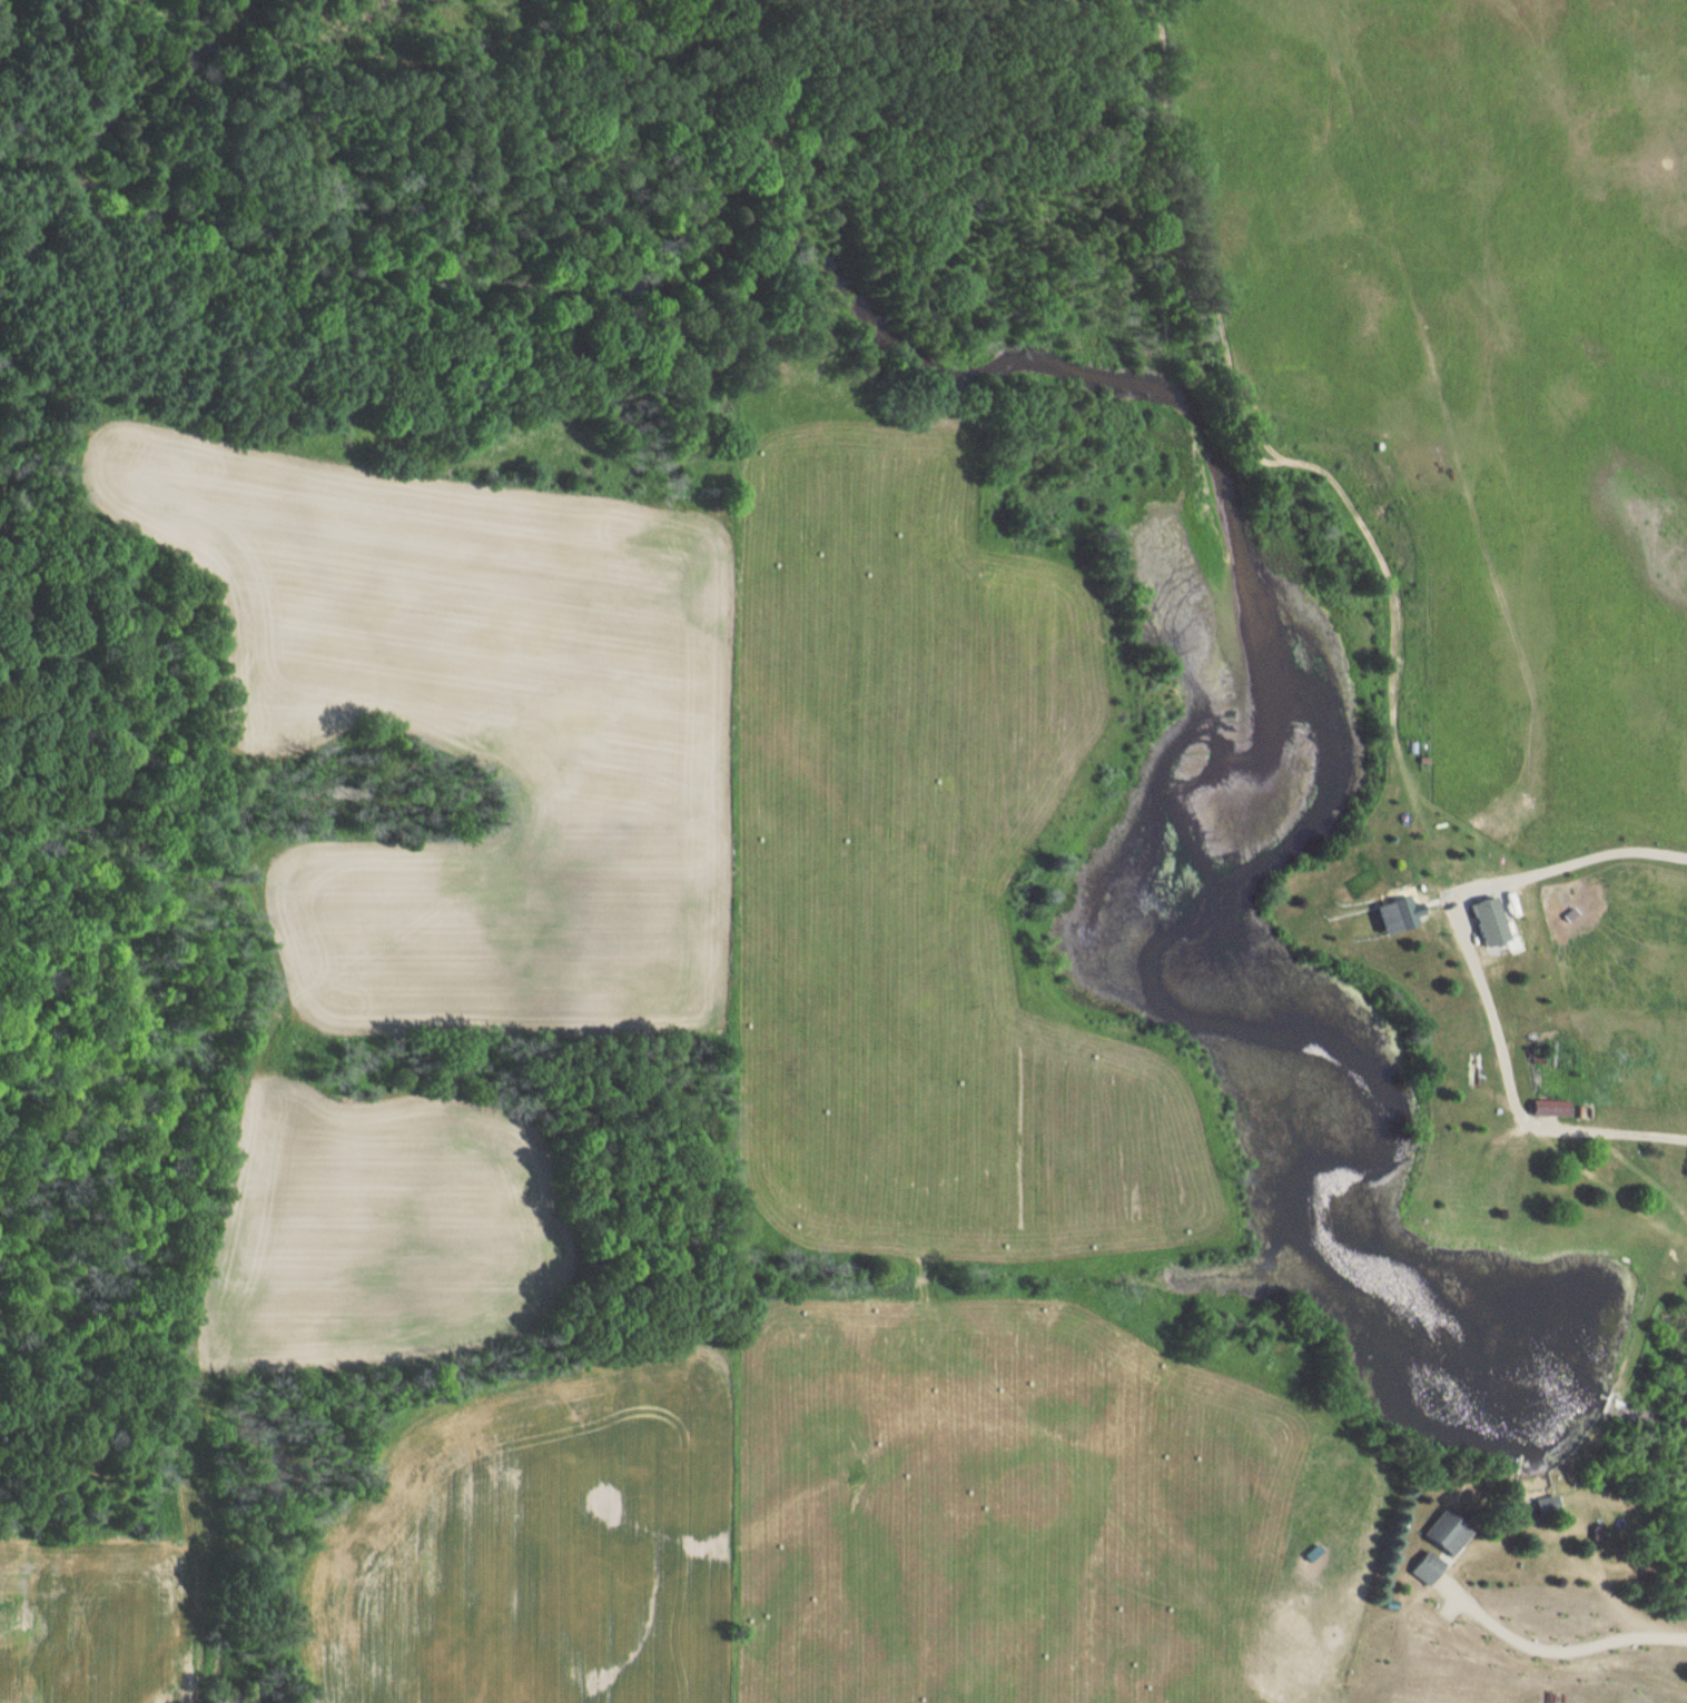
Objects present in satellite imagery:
building: (1384, 914)
building: (1479, 921)
road: (1476, 971)
building: (1543, 1108)
building: (1533, 1506)
building: (1432, 1534)
building: (1417, 1568)

